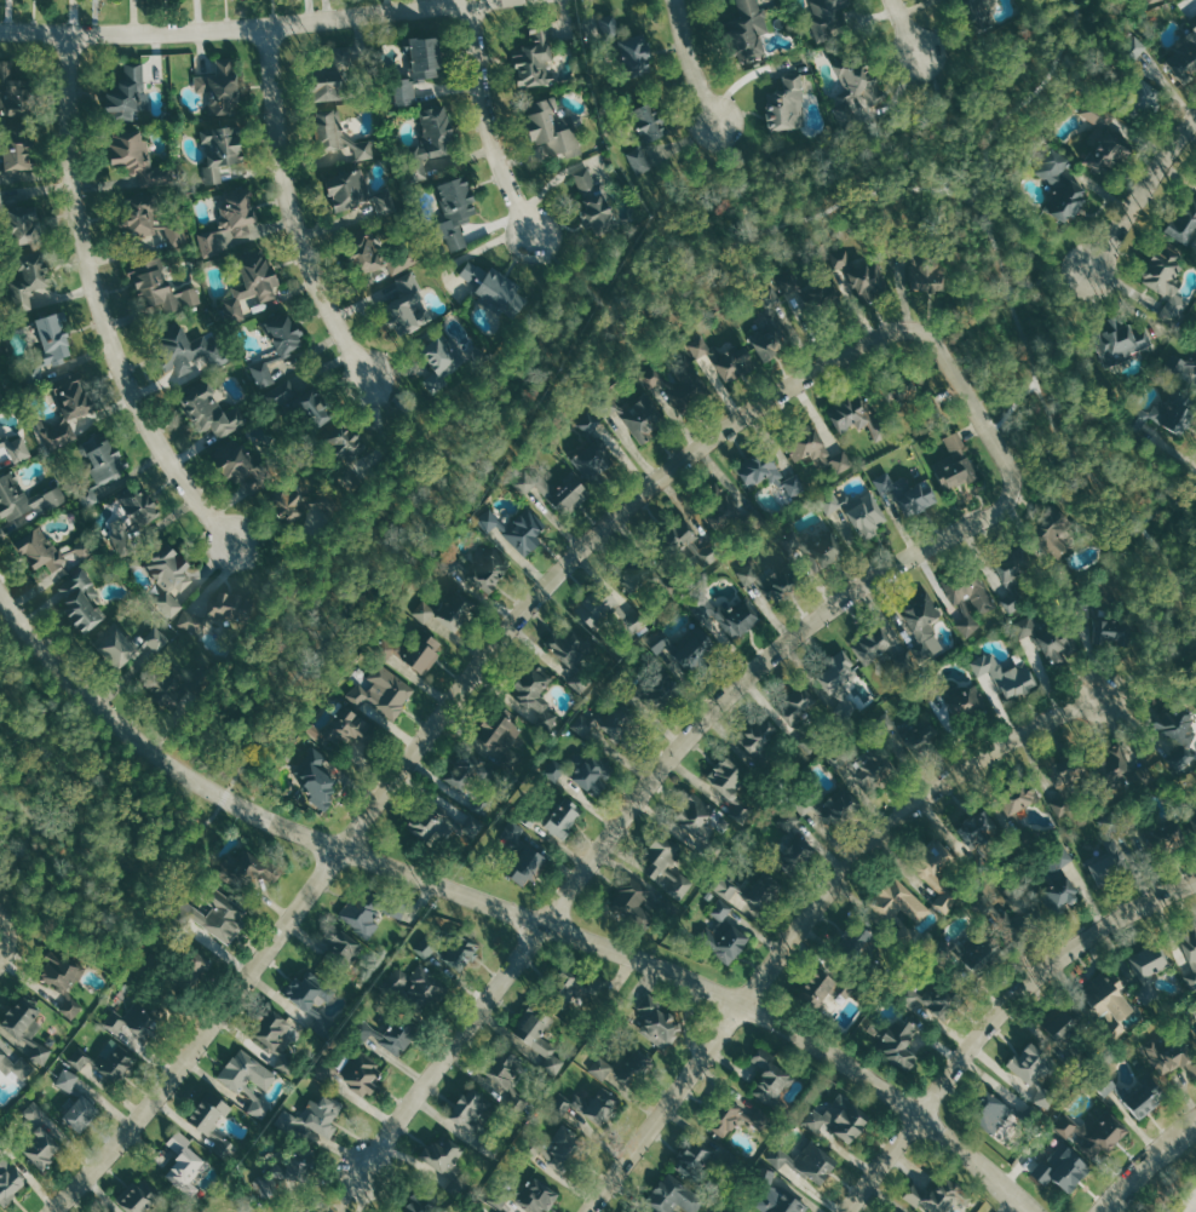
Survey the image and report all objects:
building: (1144, 2)
building: (977, 13)
building: (824, 17)
road: (251, 28)
road: (907, 28)
building: (743, 33)
building: (627, 45)
building: (1181, 56)
building: (533, 58)
road: (690, 62)
building: (419, 63)
building: (327, 76)
building: (1135, 85)
building: (220, 86)
building: (15, 88)
building: (126, 88)
building: (855, 90)
building: (784, 100)
road: (485, 121)
building: (550, 122)
building: (644, 125)
building: (337, 132)
building: (435, 144)
building: (1106, 144)
building: (18, 149)
building: (220, 150)
building: (137, 156)
building: (1060, 183)
building: (355, 190)
road: (1144, 190)
building: (596, 203)
building: (456, 206)
road: (292, 208)
building: (143, 217)
building: (1183, 219)
building: (19, 220)
building: (225, 220)
building: (360, 248)
building: (924, 268)
road: (573, 275)
building: (863, 275)
building: (28, 278)
building: (248, 278)
road: (1052, 278)
building: (1165, 282)
building: (160, 287)
building: (491, 287)
building: (811, 293)
building: (406, 304)
road: (100, 305)
building: (770, 327)
building: (1119, 340)
building: (48, 343)
building: (182, 343)
building: (272, 344)
building: (723, 357)
building: (439, 360)
building: (1177, 363)
building: (0, 369)
building: (1186, 371)
building: (654, 379)
building: (902, 387)
building: (69, 406)
building: (300, 406)
road: (1012, 406)
building: (209, 410)
building: (636, 412)
building: (1162, 413)
road: (518, 414)
building: (855, 419)
road: (416, 424)
road: (1056, 429)
building: (16, 446)
building: (811, 447)
building: (345, 452)
building: (591, 452)
building: (97, 461)
building: (242, 464)
building: (958, 466)
building: (766, 472)
building: (554, 488)
building: (905, 492)
building: (25, 495)
road: (1165, 500)
building: (297, 505)
building: (724, 511)
building: (856, 511)
building: (131, 516)
building: (512, 523)
building: (683, 535)
building: (1053, 536)
building: (42, 546)
building: (813, 547)
building: (481, 568)
building: (166, 571)
building: (1013, 574)
building: (629, 576)
building: (770, 581)
road: (280, 587)
building: (971, 591)
building: (81, 601)
building: (443, 607)
building: (597, 608)
building: (220, 610)
building: (725, 614)
building: (1102, 622)
building: (922, 625)
building: (1051, 637)
road: (500, 639)
building: (126, 644)
building: (680, 645)
building: (410, 647)
building: (879, 651)
building: (574, 654)
road: (1146, 666)
building: (1007, 673)
building: (176, 682)
building: (839, 683)
building: (383, 688)
building: (652, 690)
building: (534, 693)
building: (955, 696)
building: (798, 708)
building: (608, 722)
building: (1173, 726)
building: (343, 729)
building: (910, 733)
building: (500, 737)
building: (758, 739)
building: (861, 763)
building: (580, 770)
building: (1119, 772)
building: (476, 777)
building: (731, 779)
building: (315, 781)
building: (1066, 782)
road: (646, 787)
building: (826, 804)
building: (1019, 808)
building: (552, 814)
building: (694, 817)
building: (783, 817)
building: (441, 821)
building: (1191, 823)
building: (977, 828)
building: (1156, 831)
building: (793, 845)
road: (18, 849)
building: (1108, 851)
building: (514, 860)
building: (666, 862)
building: (241, 869)
building: (938, 873)
building: (1059, 883)
building: (751, 888)
building: (639, 906)
building: (370, 908)
road: (505, 908)
building: (899, 909)
building: (1014, 911)
road: (807, 913)
building: (213, 914)
road: (4, 923)
building: (721, 932)
building: (856, 943)
road: (6, 946)
building: (448, 952)
building: (339, 953)
building: (1190, 954)
building: (974, 957)
building: (177, 965)
building: (1150, 967)
building: (61, 971)
building: (570, 983)
building: (415, 988)
building: (817, 988)
building: (311, 999)
building: (931, 999)
building: (1111, 1001)
building: (73, 1007)
building: (137, 1018)
road: (997, 1018)
building: (659, 1022)
building: (1064, 1022)
building: (27, 1029)
building: (389, 1033)
building: (275, 1038)
building: (537, 1040)
building: (896, 1041)
building: (1167, 1046)
building: (107, 1059)
building: (16, 1065)
building: (627, 1068)
building: (1034, 1069)
building: (351, 1072)
building: (505, 1074)
building: (770, 1076)
building: (248, 1080)
building: (1132, 1092)
building: (75, 1101)
building: (588, 1105)
building: (989, 1113)
building: (735, 1115)
building: (317, 1118)
building: (479, 1118)
building: (836, 1118)
building: (212, 1121)
building: (1094, 1132)
building: (38, 1136)
building: (560, 1149)
building: (803, 1158)
building: (703, 1159)
building: (183, 1162)
building: (445, 1162)
road: (1148, 1166)
building: (286, 1168)
building: (1058, 1168)
building: (8, 1173)
building: (778, 1193)
building: (941, 1194)
building: (139, 1195)
building: (524, 1195)
building: (673, 1195)
building: (415, 1202)
building: (316, 1204)
parking lot: (1188, 1204)
building: (734, 1208)
building: (897, 1211)
building: (902, 1211)

